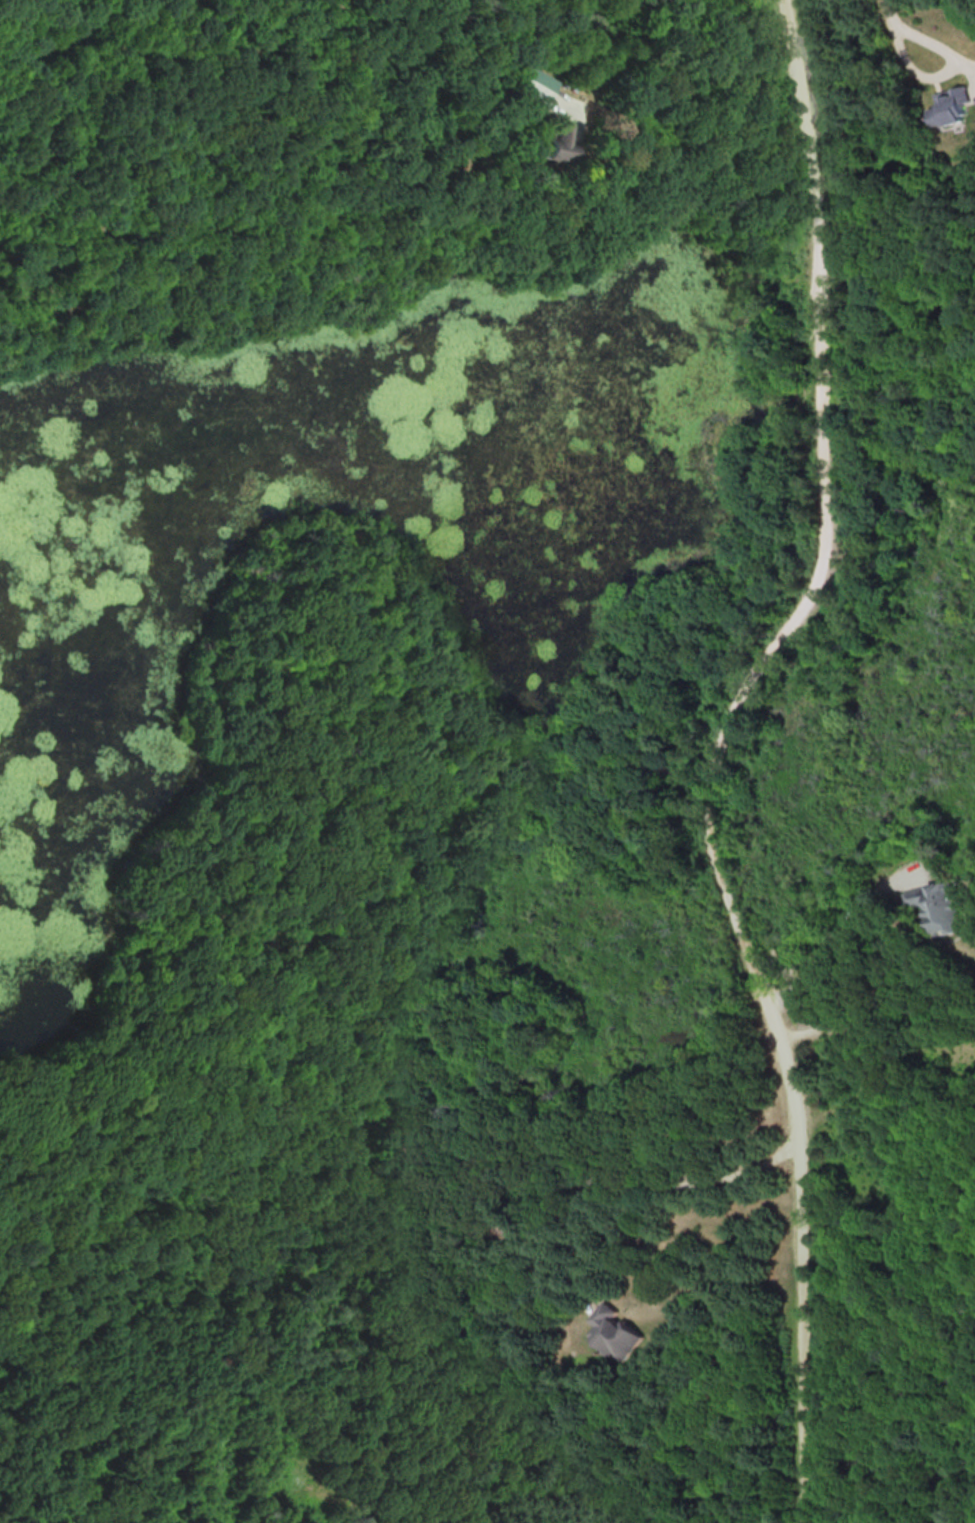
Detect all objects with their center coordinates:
road: (890, 17)
road: (947, 79)
building: (533, 83)
road: (686, 88)
building: (947, 106)
building: (555, 144)
road: (717, 753)
road: (839, 937)
road: (633, 1181)
building: (613, 1331)

